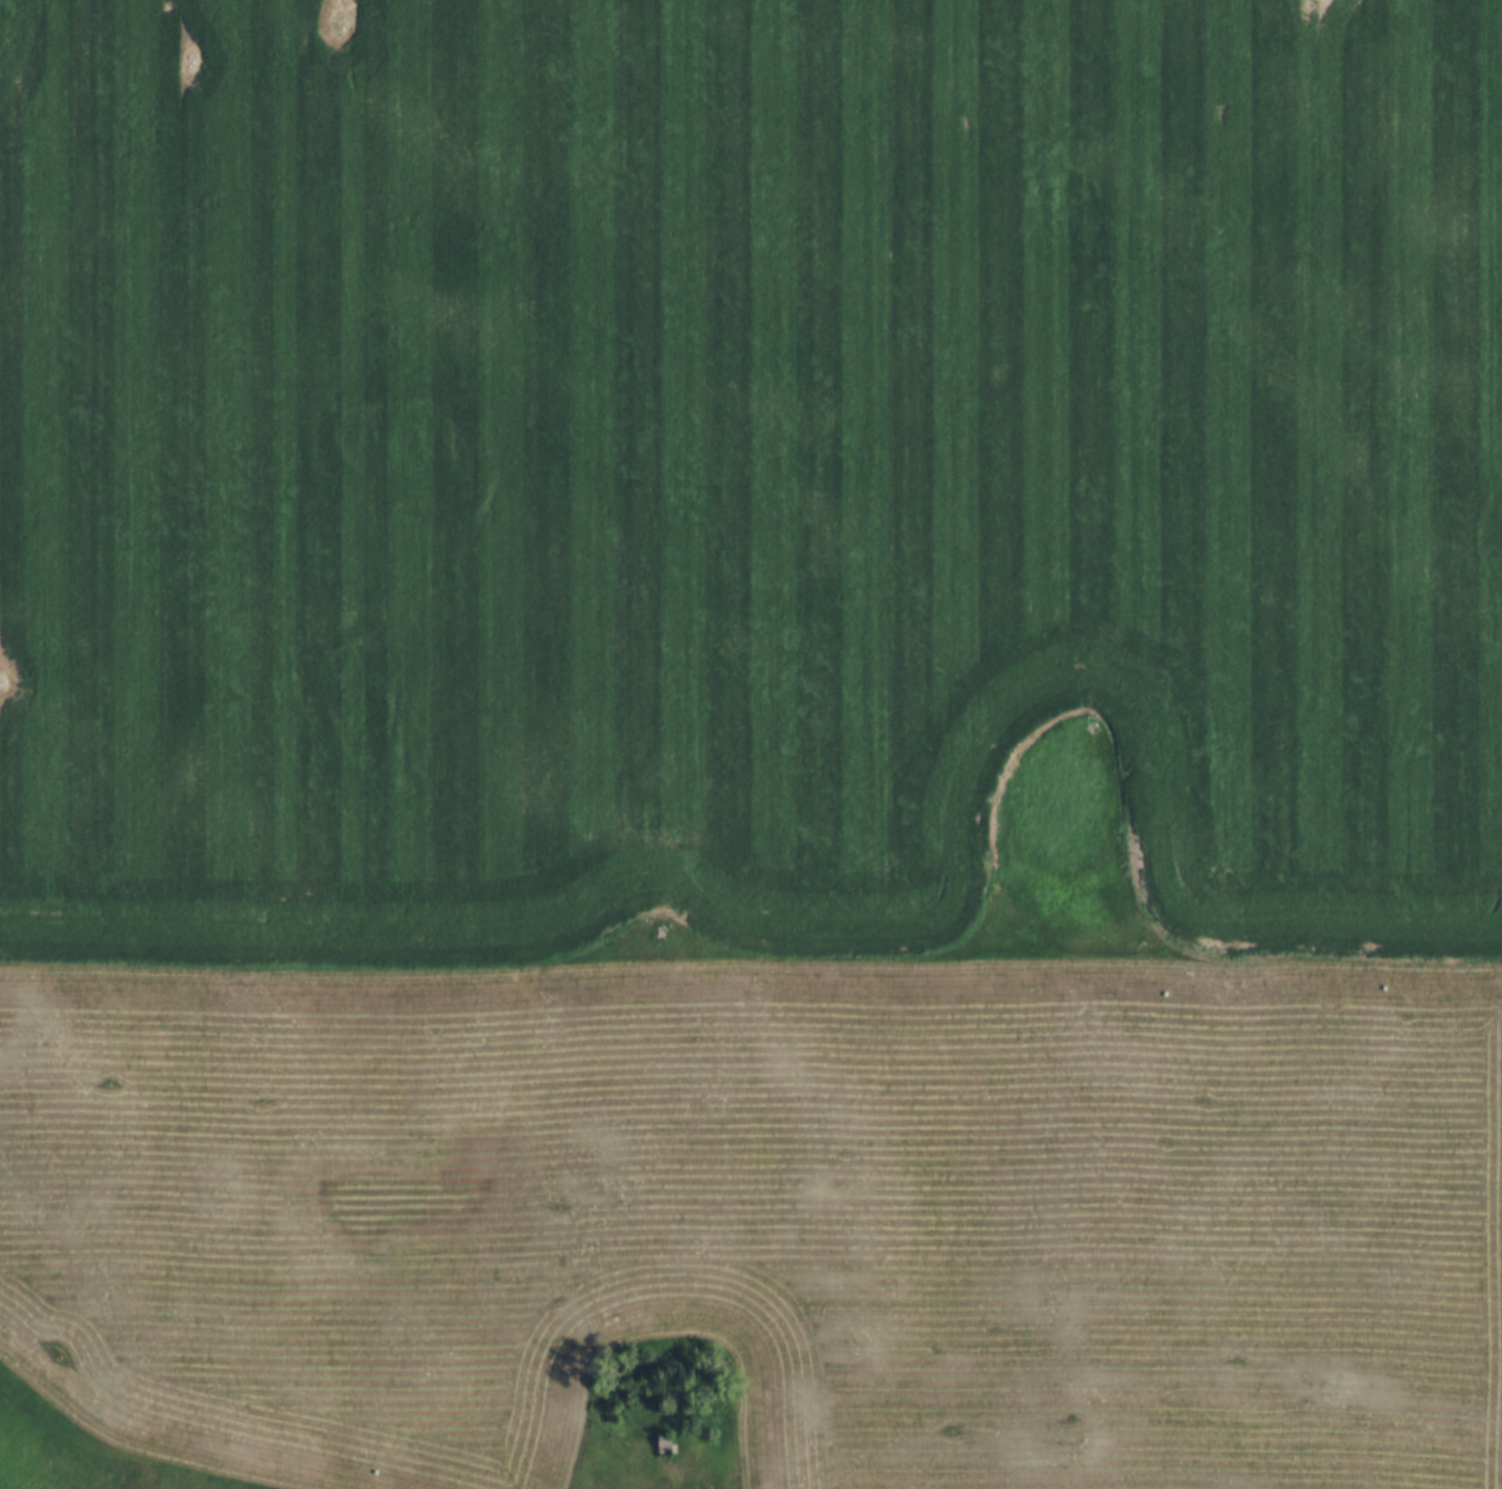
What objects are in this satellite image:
building: (1002, 1102)
building: (1098, 1191)
building: (662, 1449)

